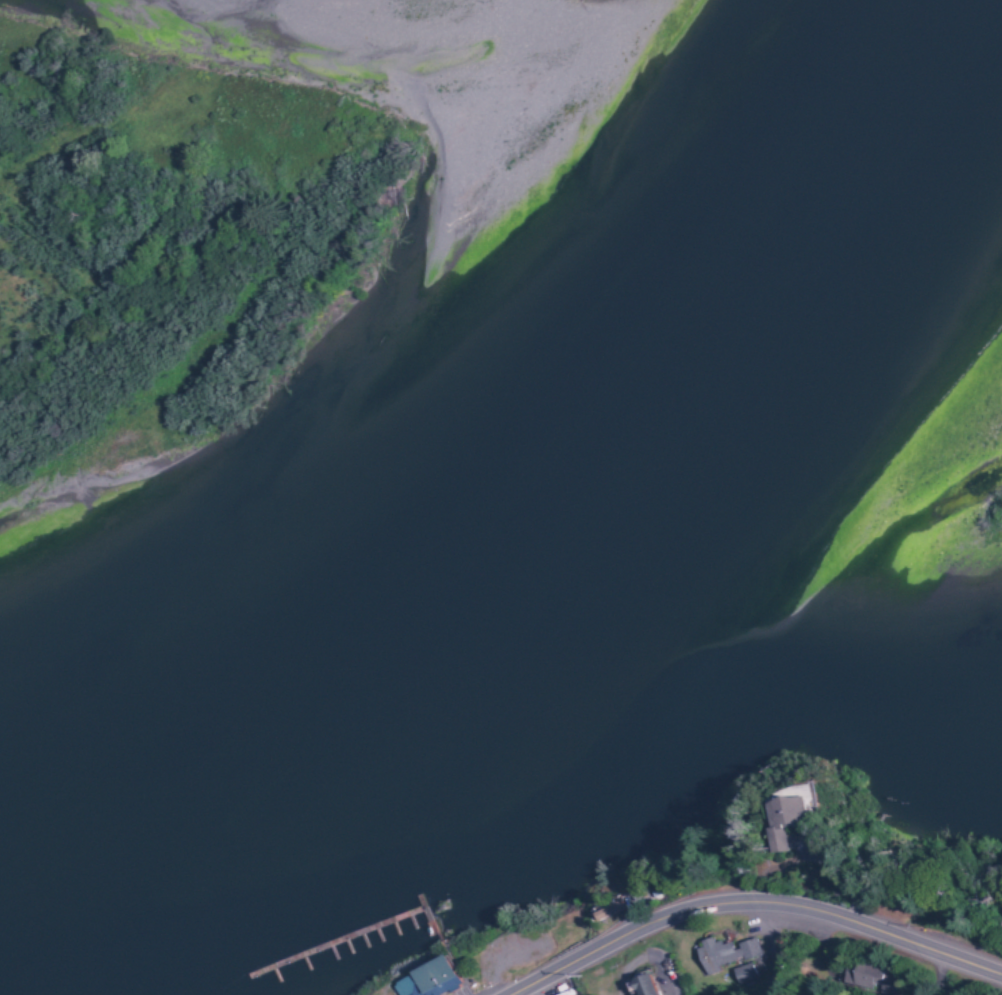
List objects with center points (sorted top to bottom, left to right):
river: (529, 507)
building: (785, 818)
building: (608, 909)
road: (760, 914)
building: (724, 952)
building: (743, 972)
road: (937, 976)
building: (427, 979)
building: (644, 984)

